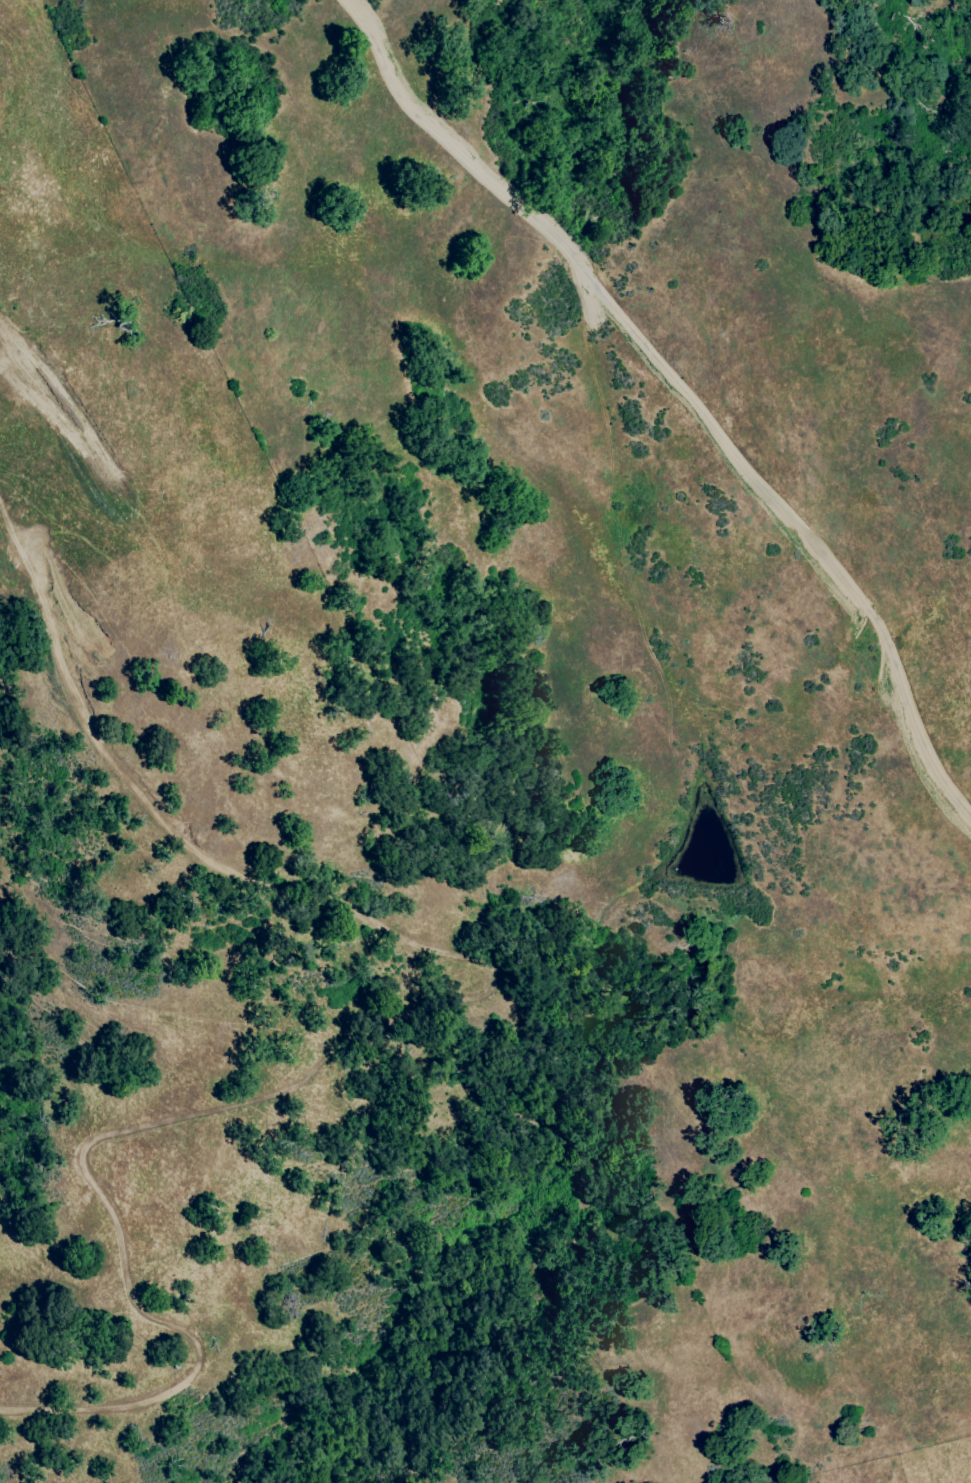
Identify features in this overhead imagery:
road: (471, 164)
road: (818, 549)

